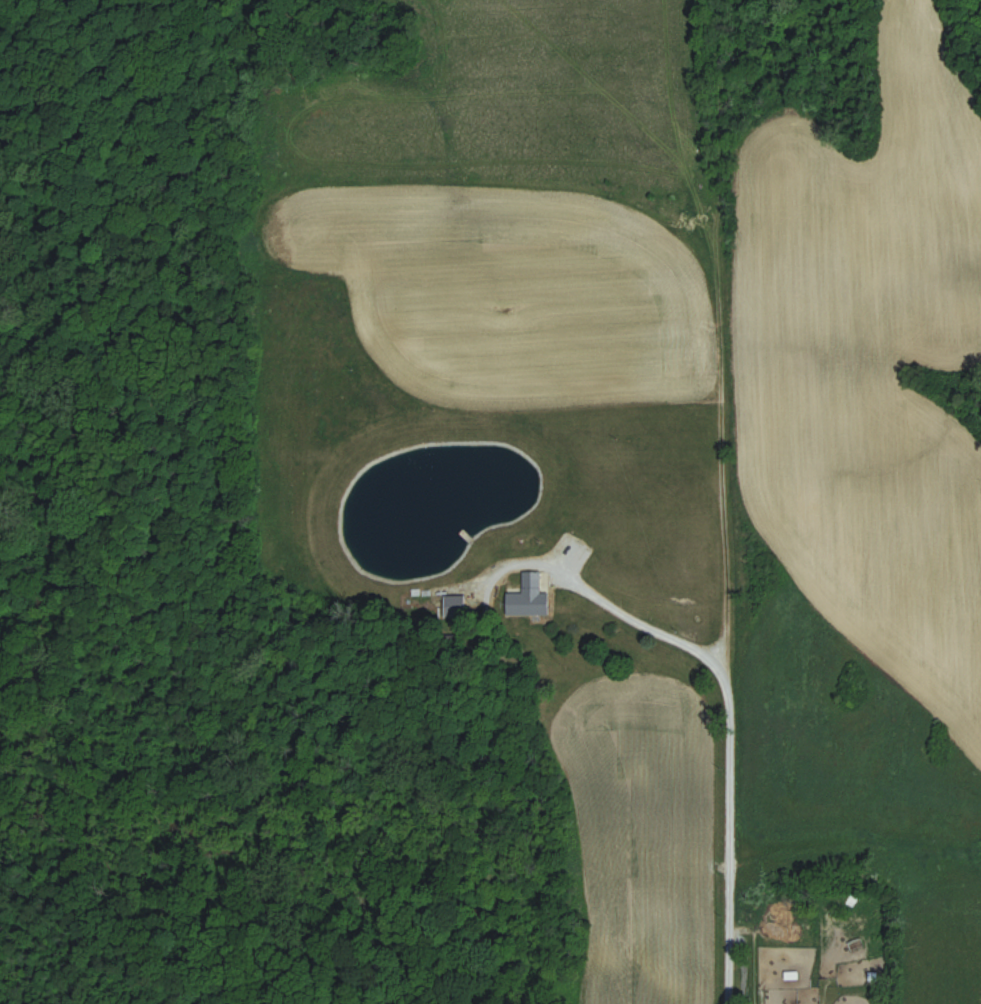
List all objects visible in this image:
building: (528, 596)
road: (724, 730)

